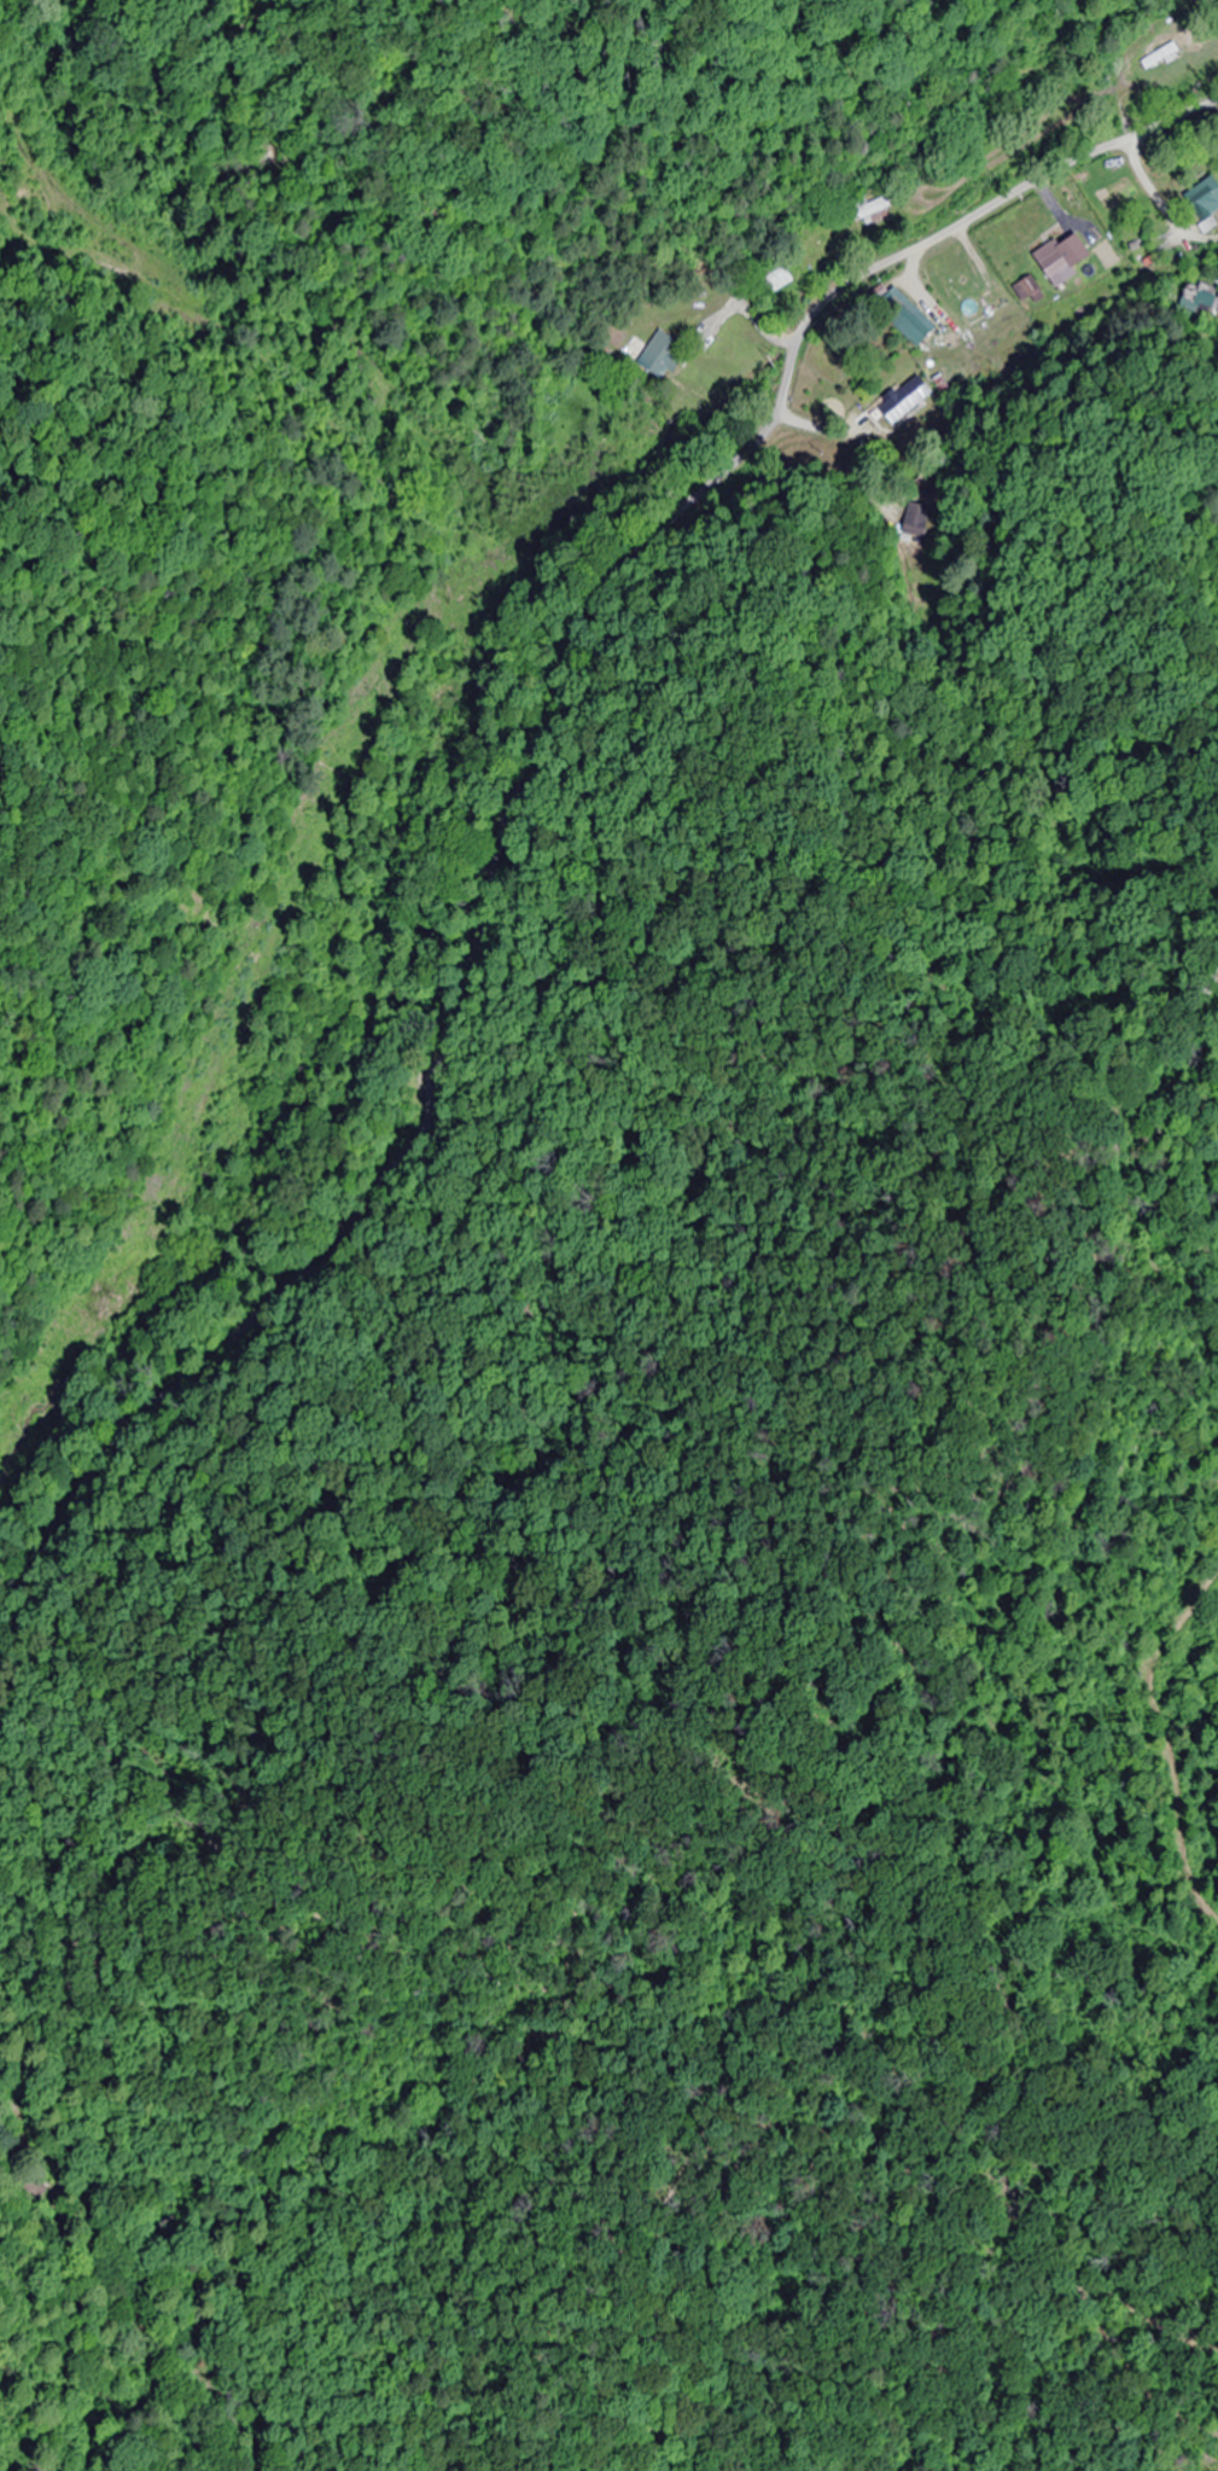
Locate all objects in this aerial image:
building: (1161, 58)
building: (1205, 198)
building: (879, 211)
building: (1067, 258)
building: (777, 279)
building: (1025, 291)
building: (907, 319)
building: (665, 357)
building: (903, 403)
building: (913, 521)
road: (520, 779)

